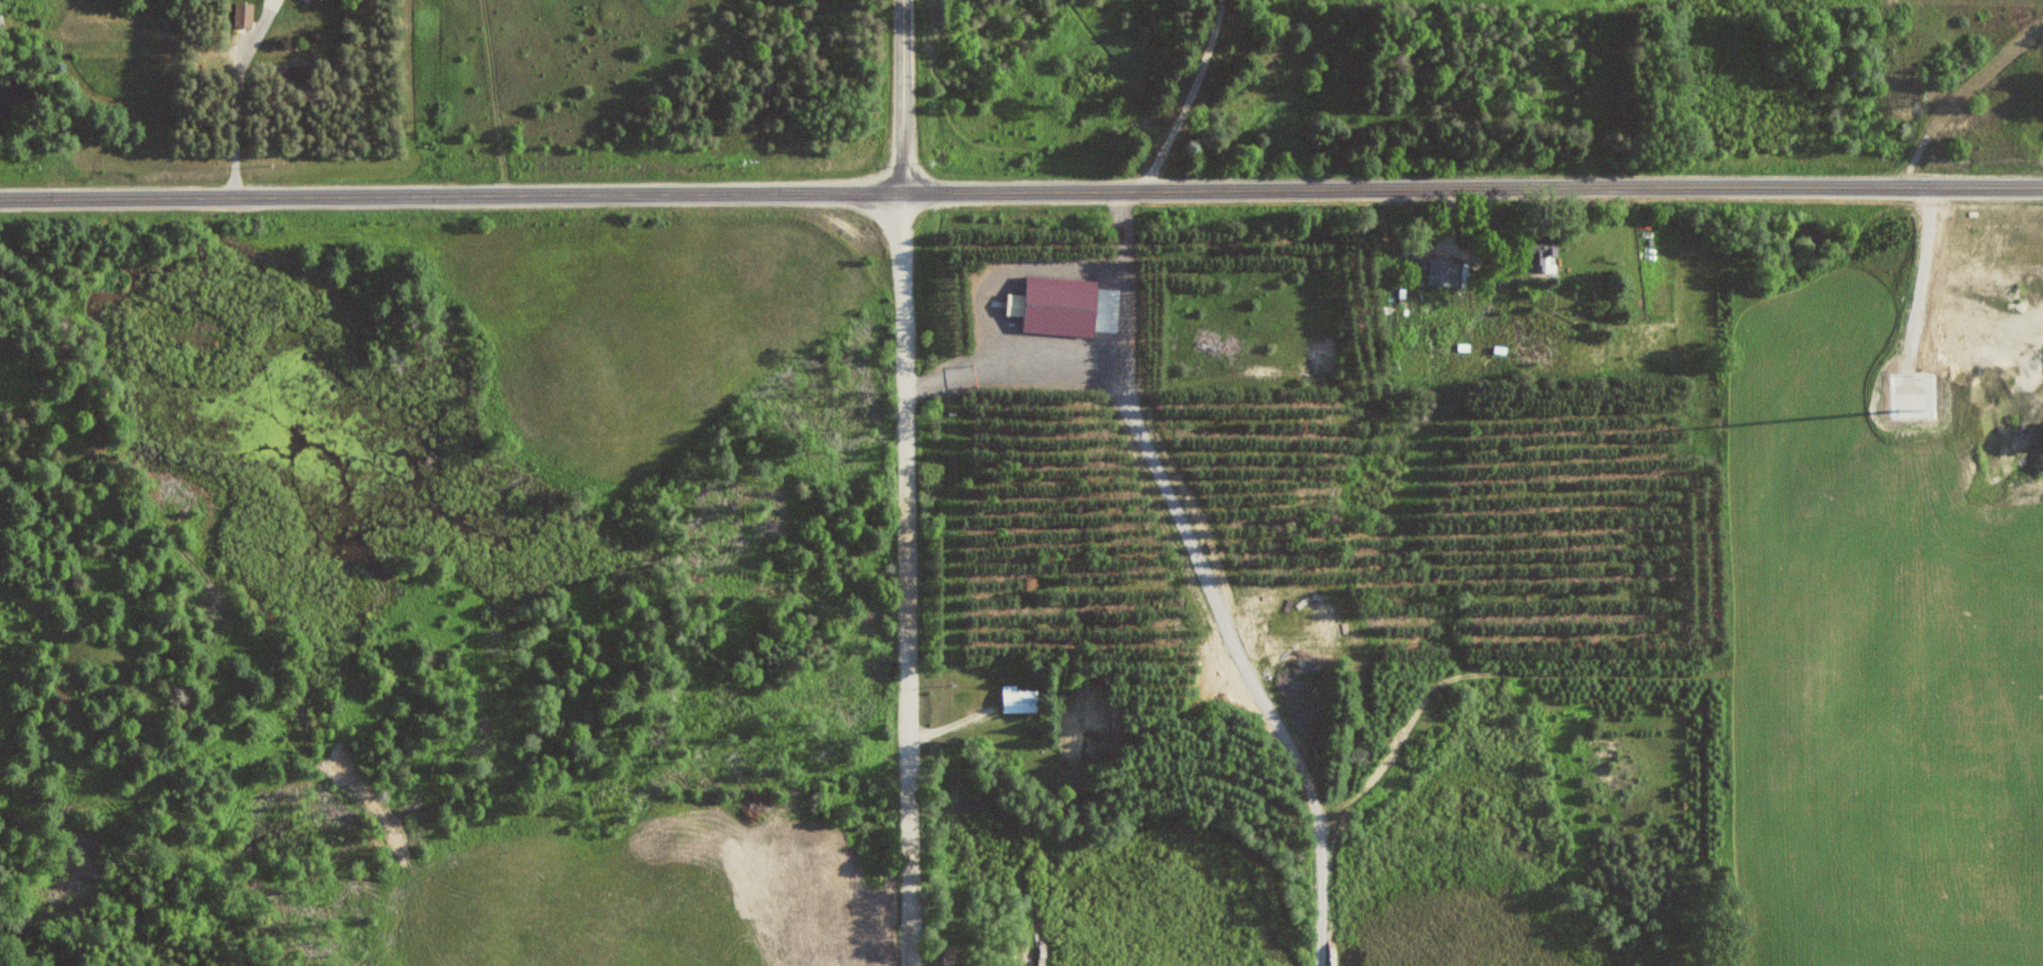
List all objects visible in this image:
building: (326, 0)
building: (244, 14)
building: (2, 22)
road: (239, 95)
road: (903, 96)
road: (1190, 97)
road: (1021, 191)
building: (1543, 251)
building: (1445, 271)
building: (1015, 304)
road: (905, 579)
building: (1020, 698)

